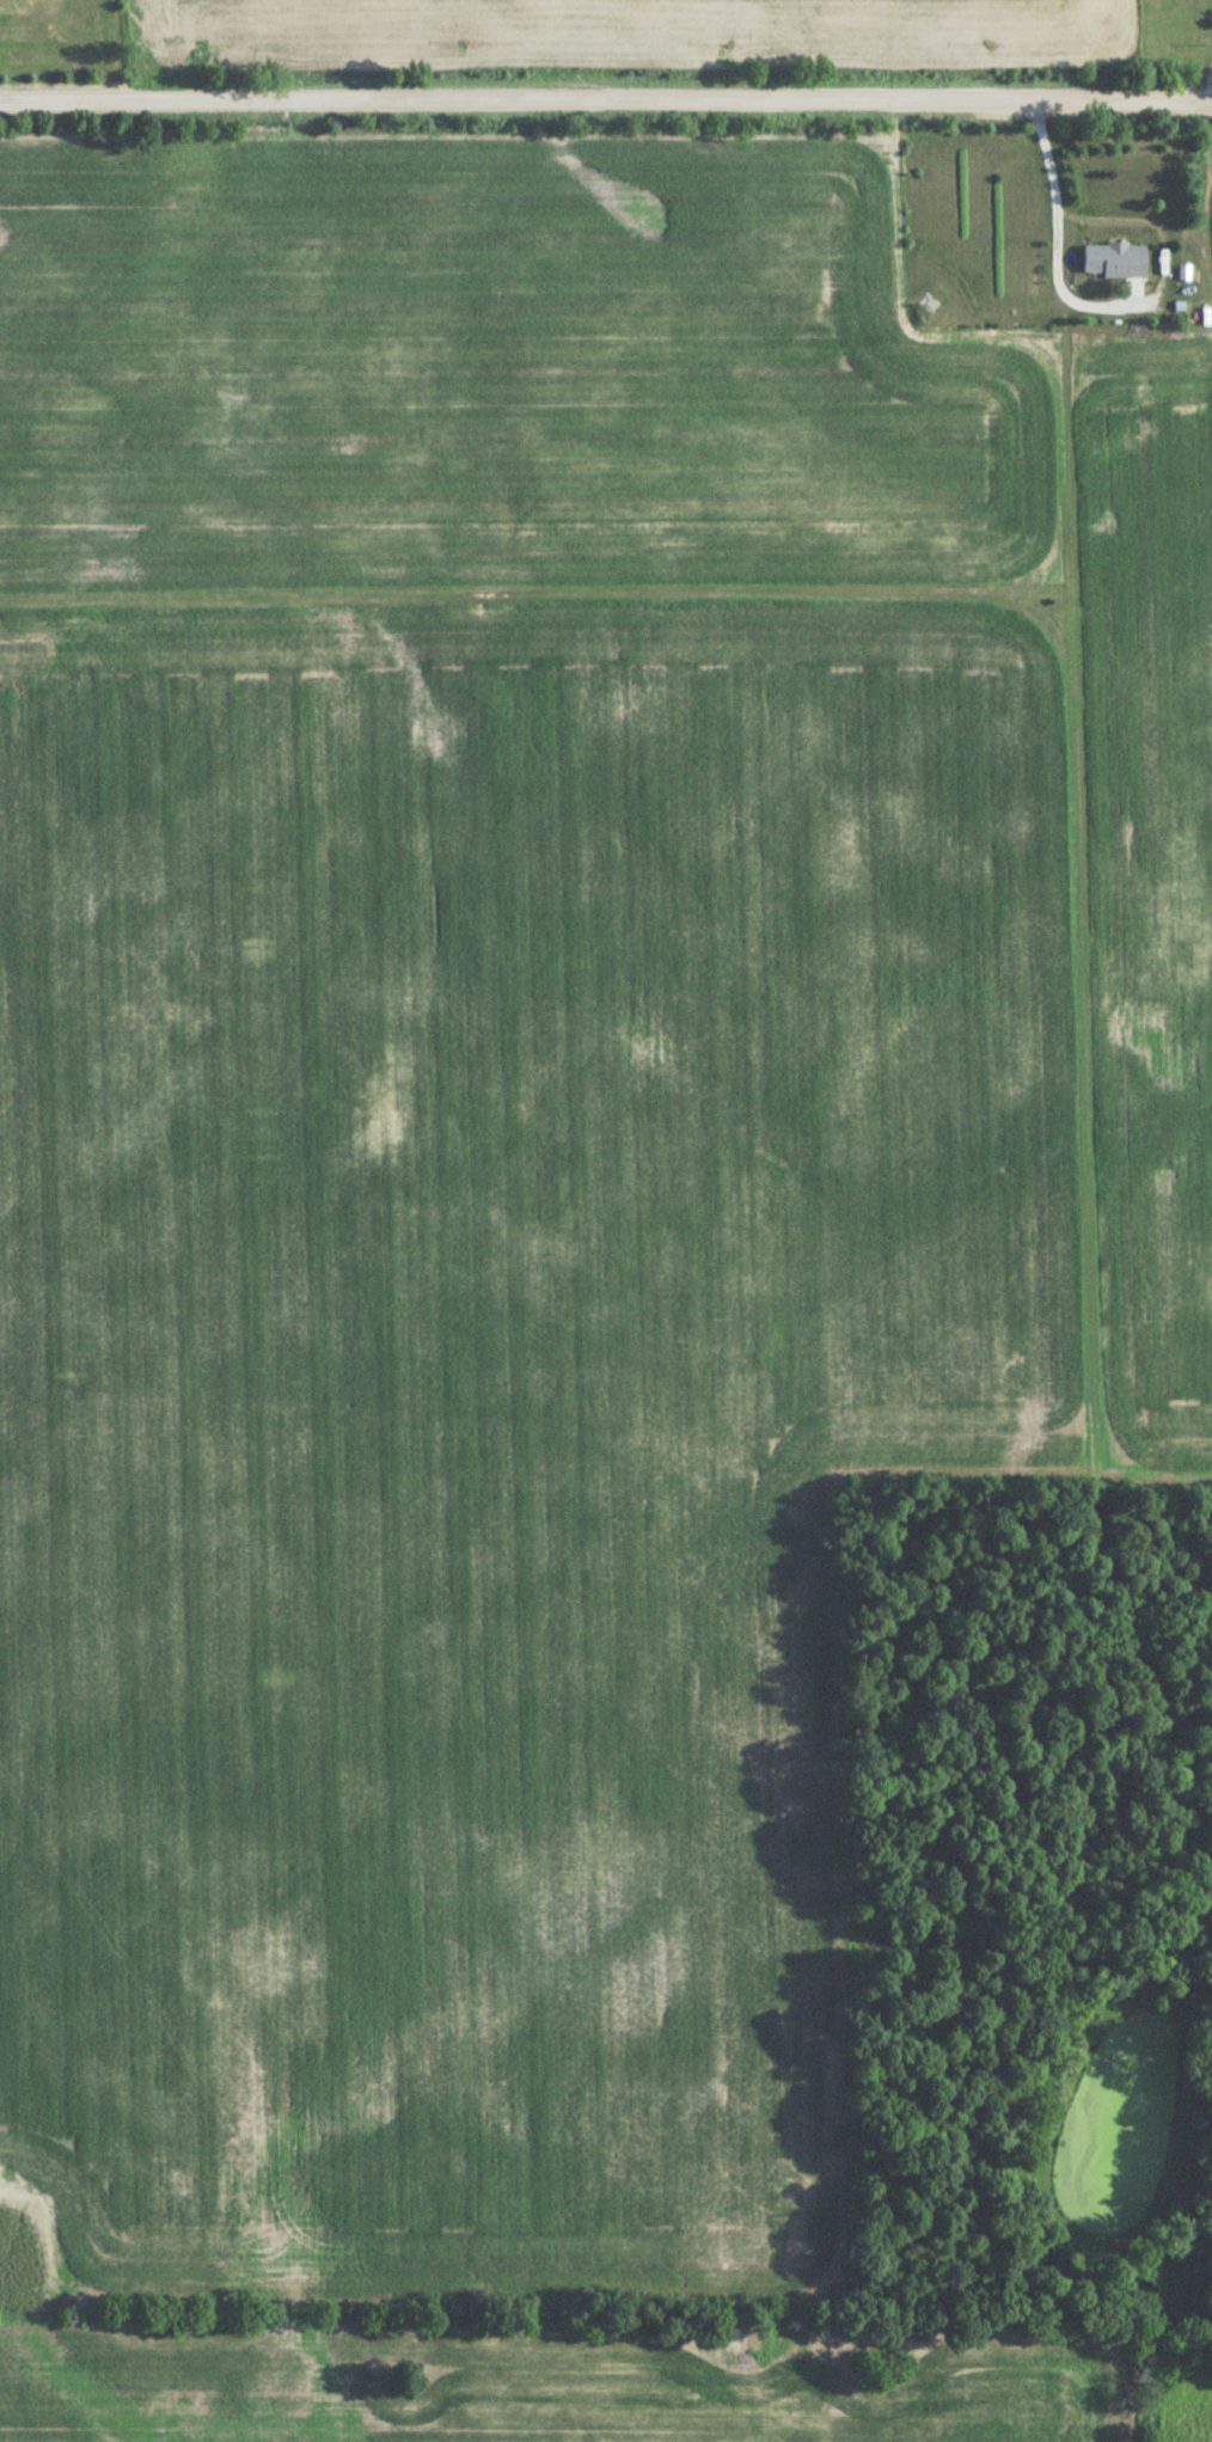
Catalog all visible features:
road: (605, 100)
building: (1114, 262)
road: (1096, 307)

